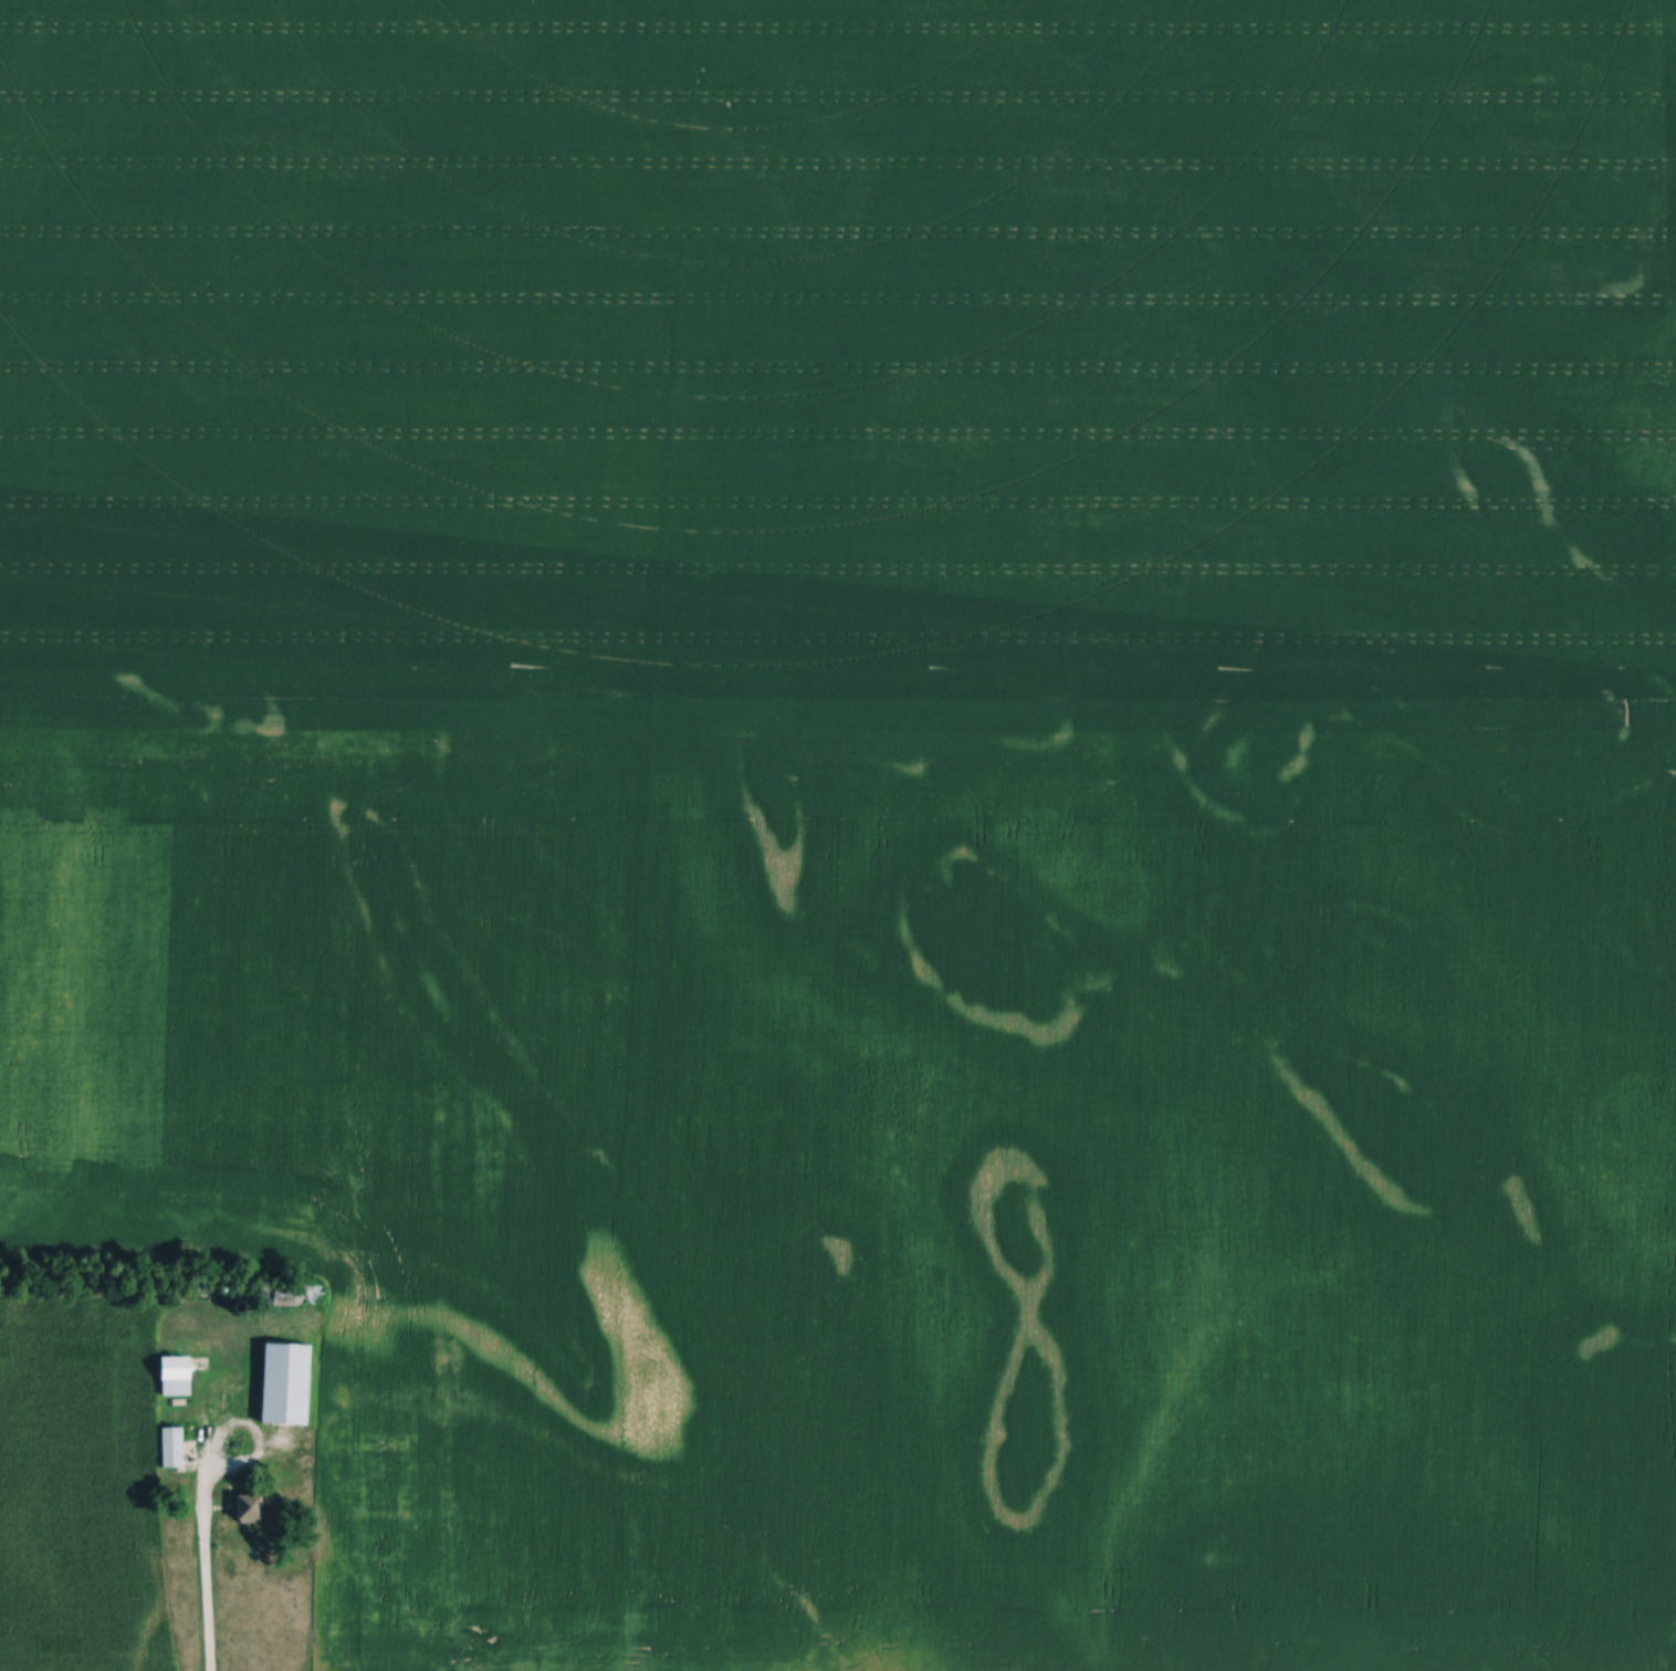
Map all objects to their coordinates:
building: (181, 1378)
building: (290, 1385)
building: (176, 1449)
building: (253, 1508)
road: (202, 1565)

